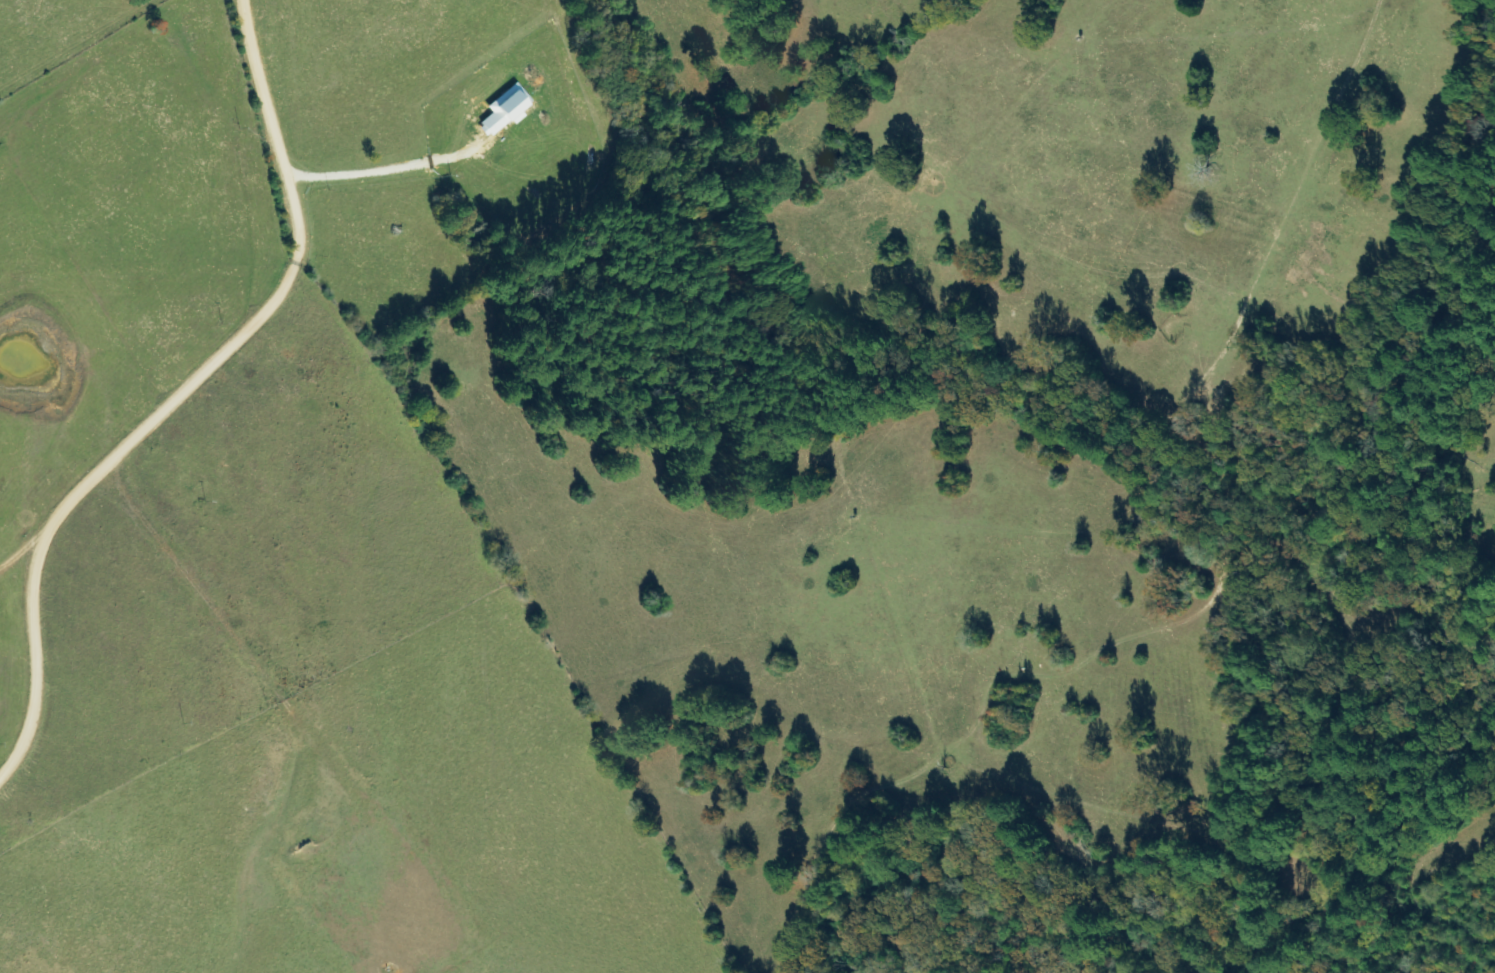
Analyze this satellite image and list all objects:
road: (265, 90)
building: (504, 109)
road: (112, 460)

